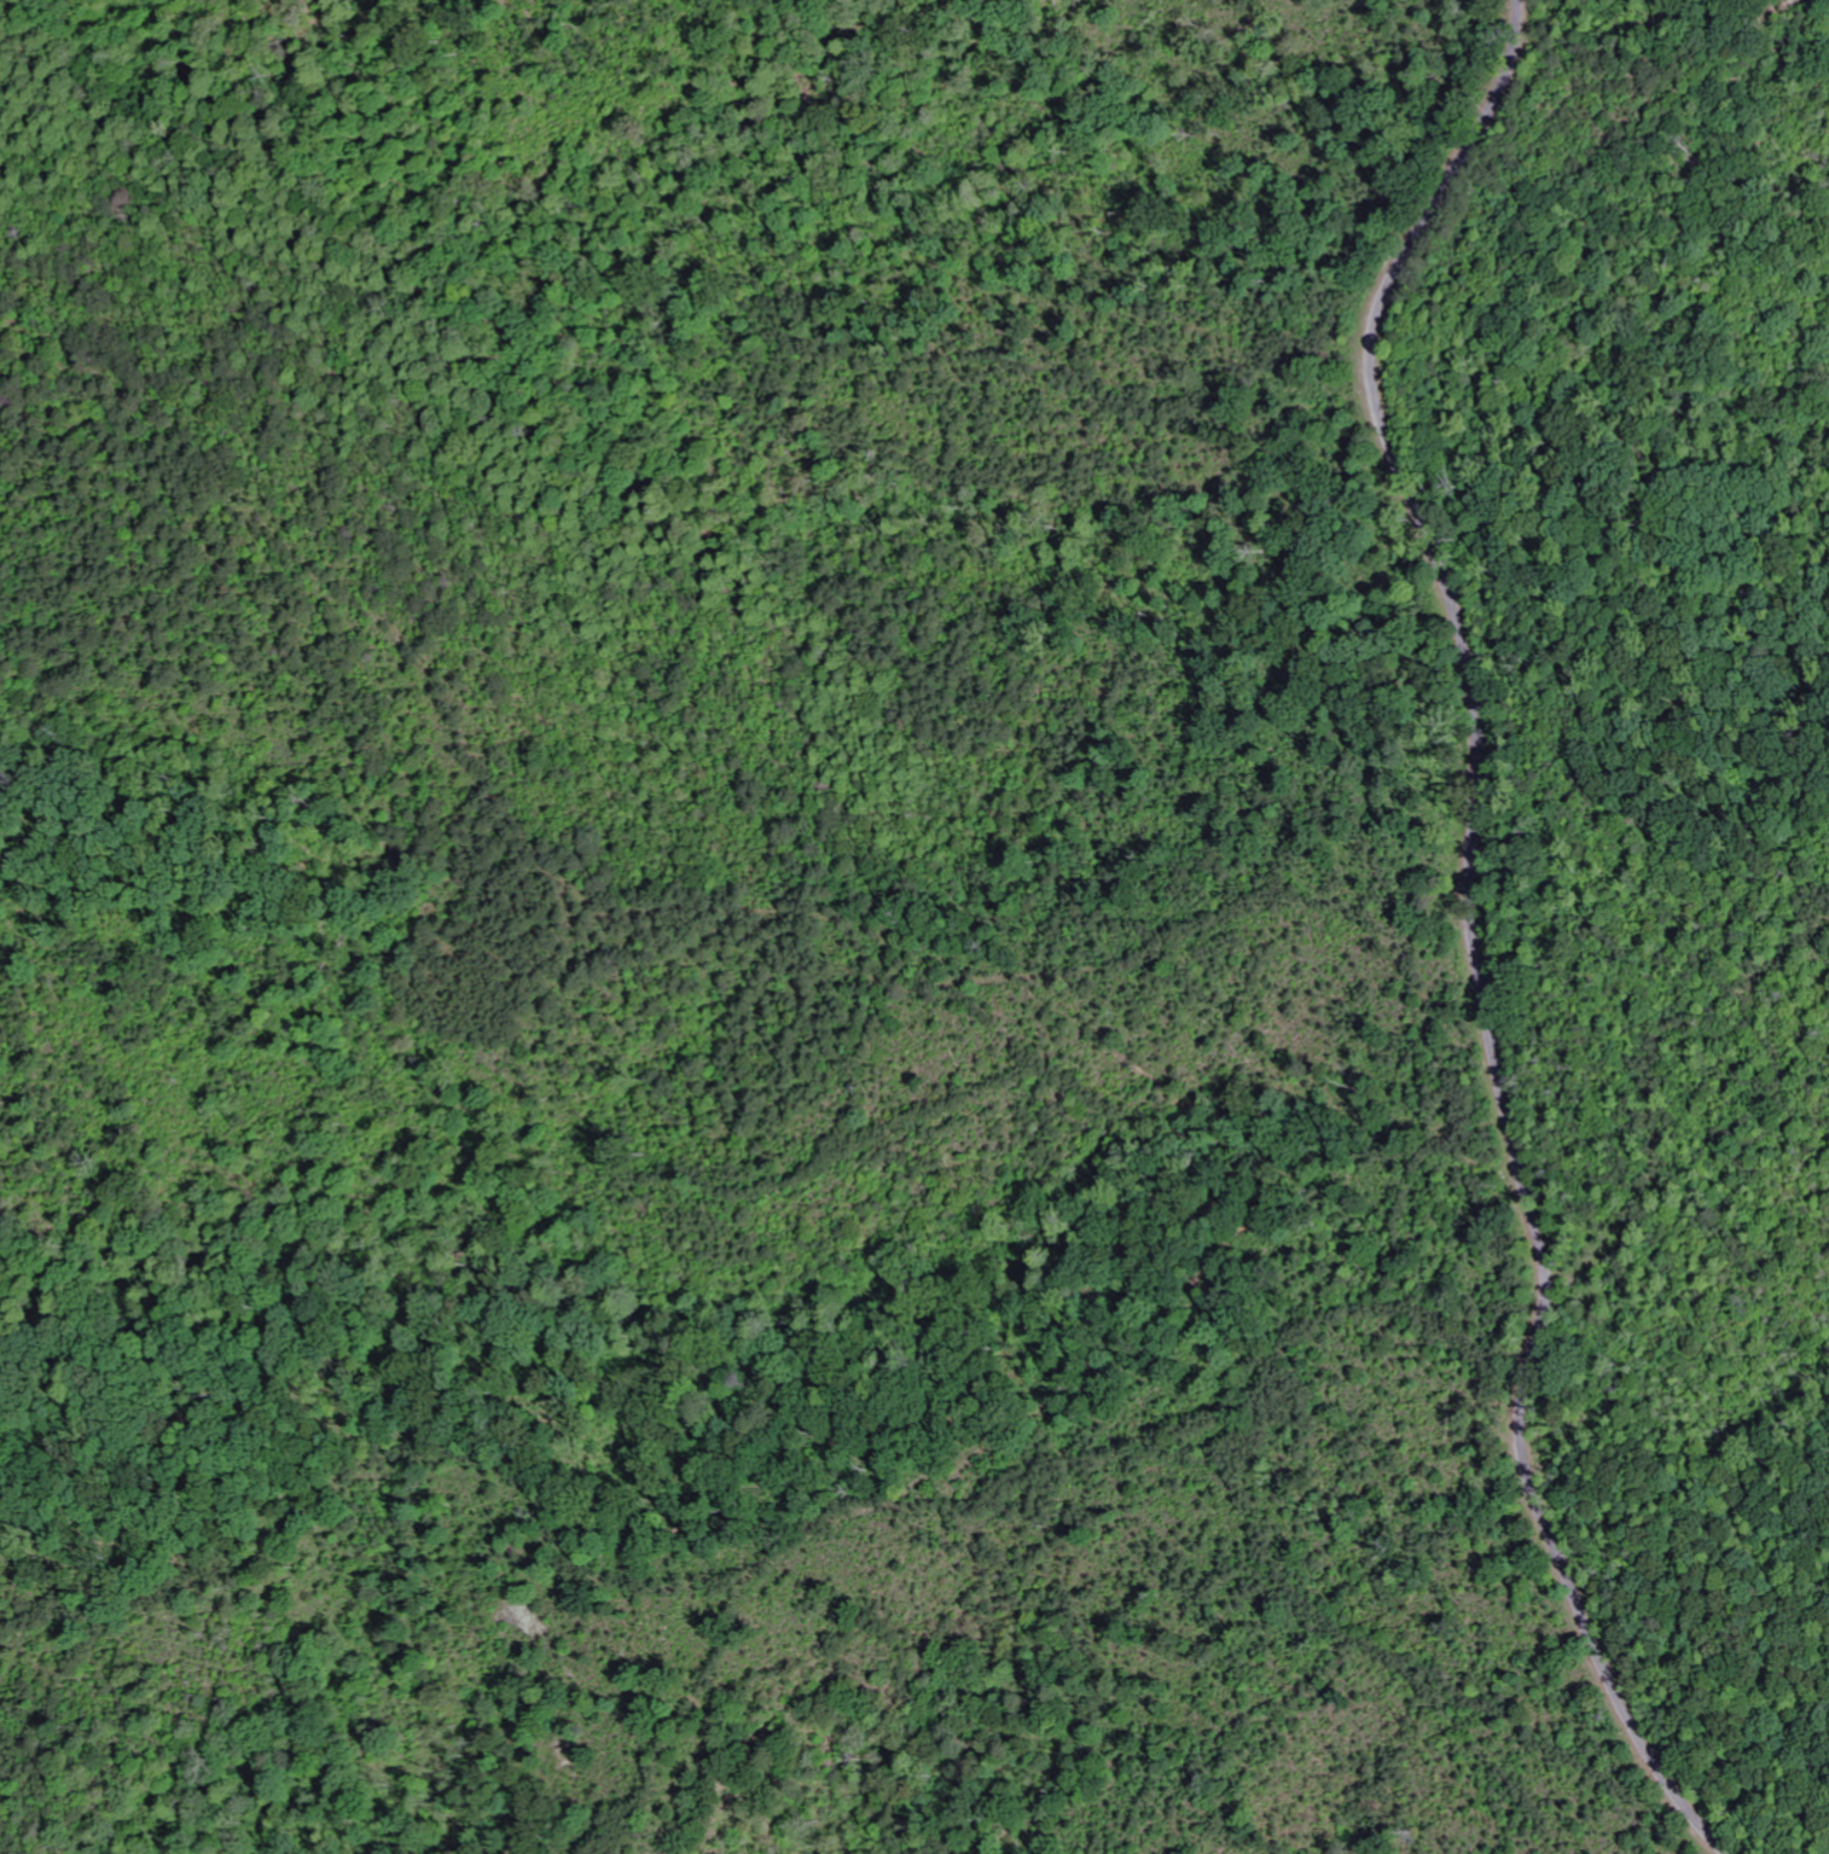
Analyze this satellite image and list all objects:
road: (1474, 935)

